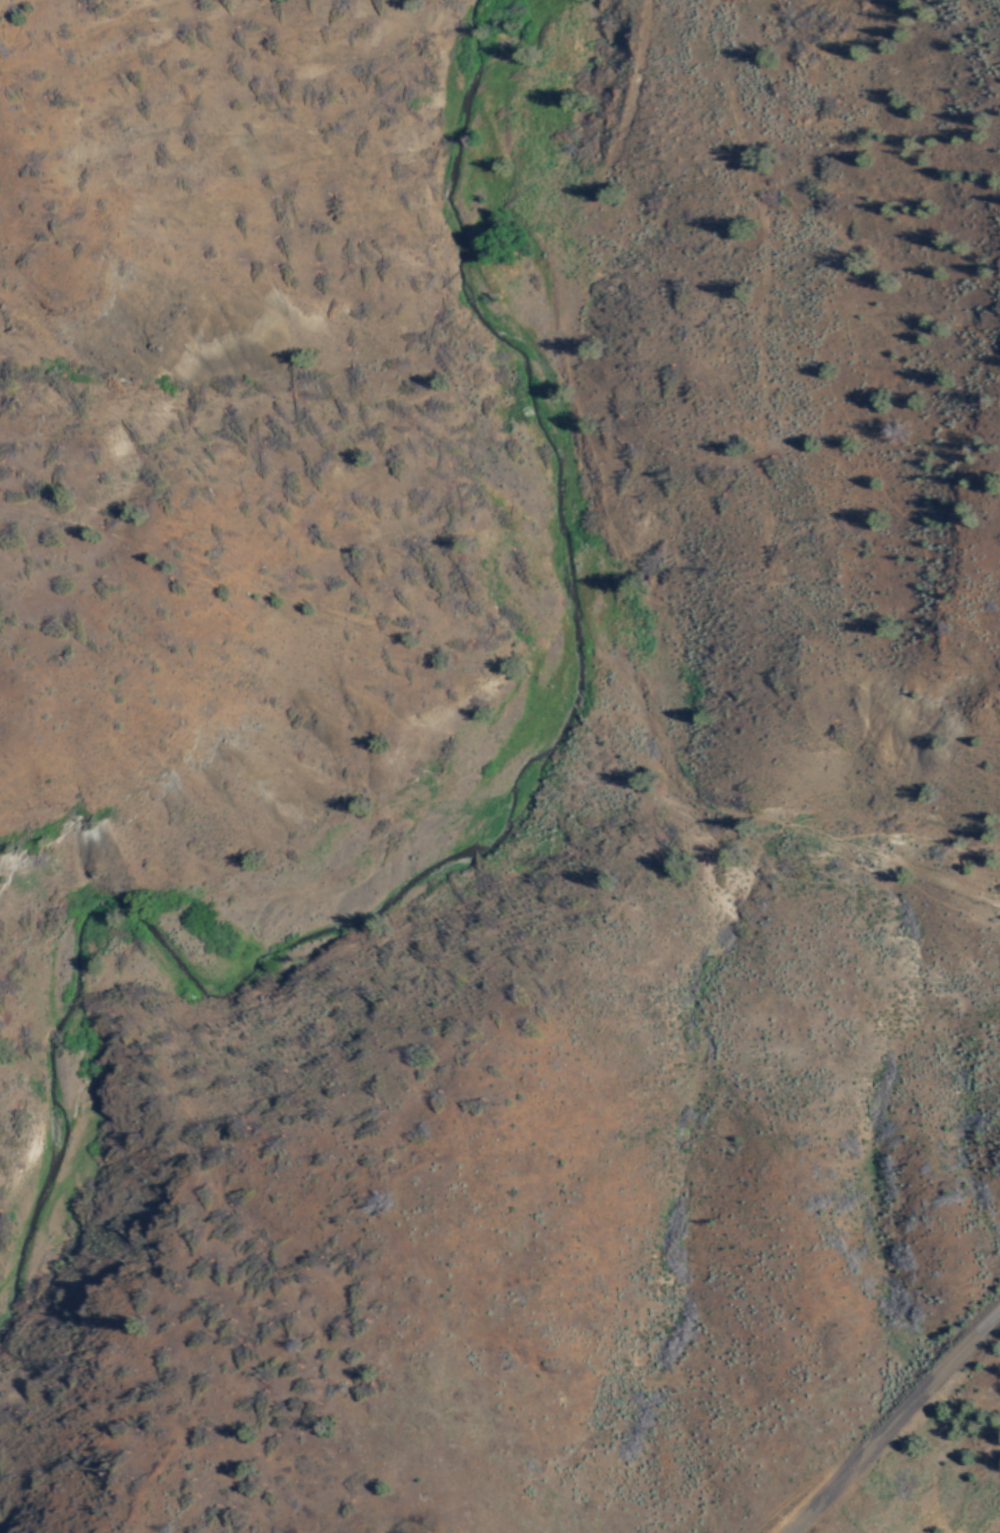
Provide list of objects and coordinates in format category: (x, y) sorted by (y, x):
road: (857, 1400)

